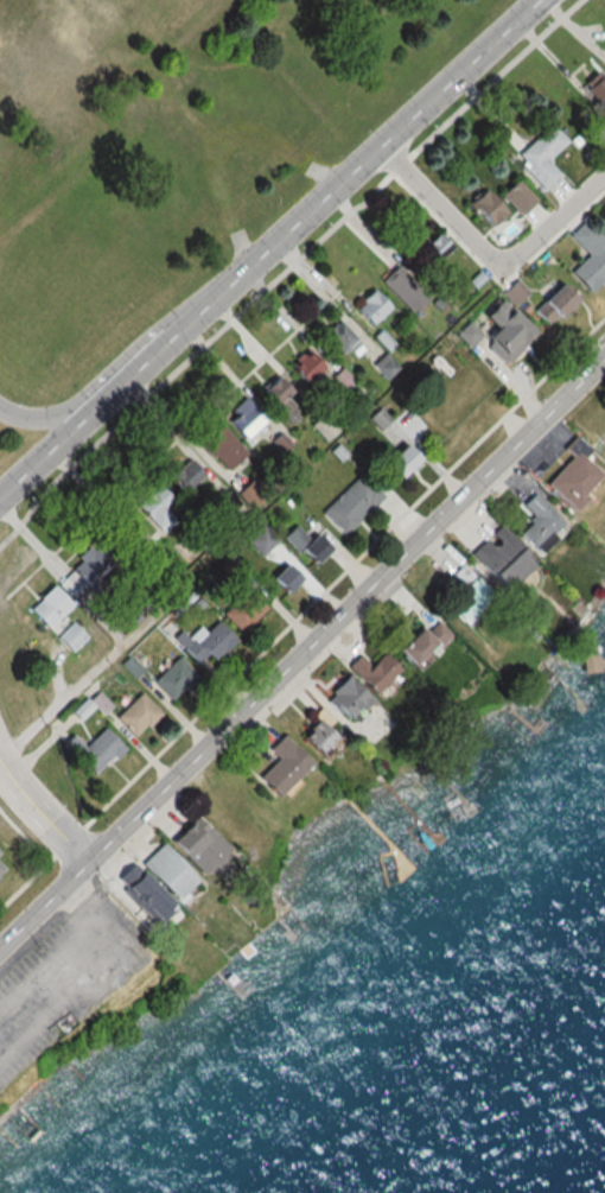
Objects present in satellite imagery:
road: (304, 207)
road: (486, 255)
road: (287, 268)
road: (40, 417)
road: (40, 446)
road: (302, 637)
road: (37, 816)

